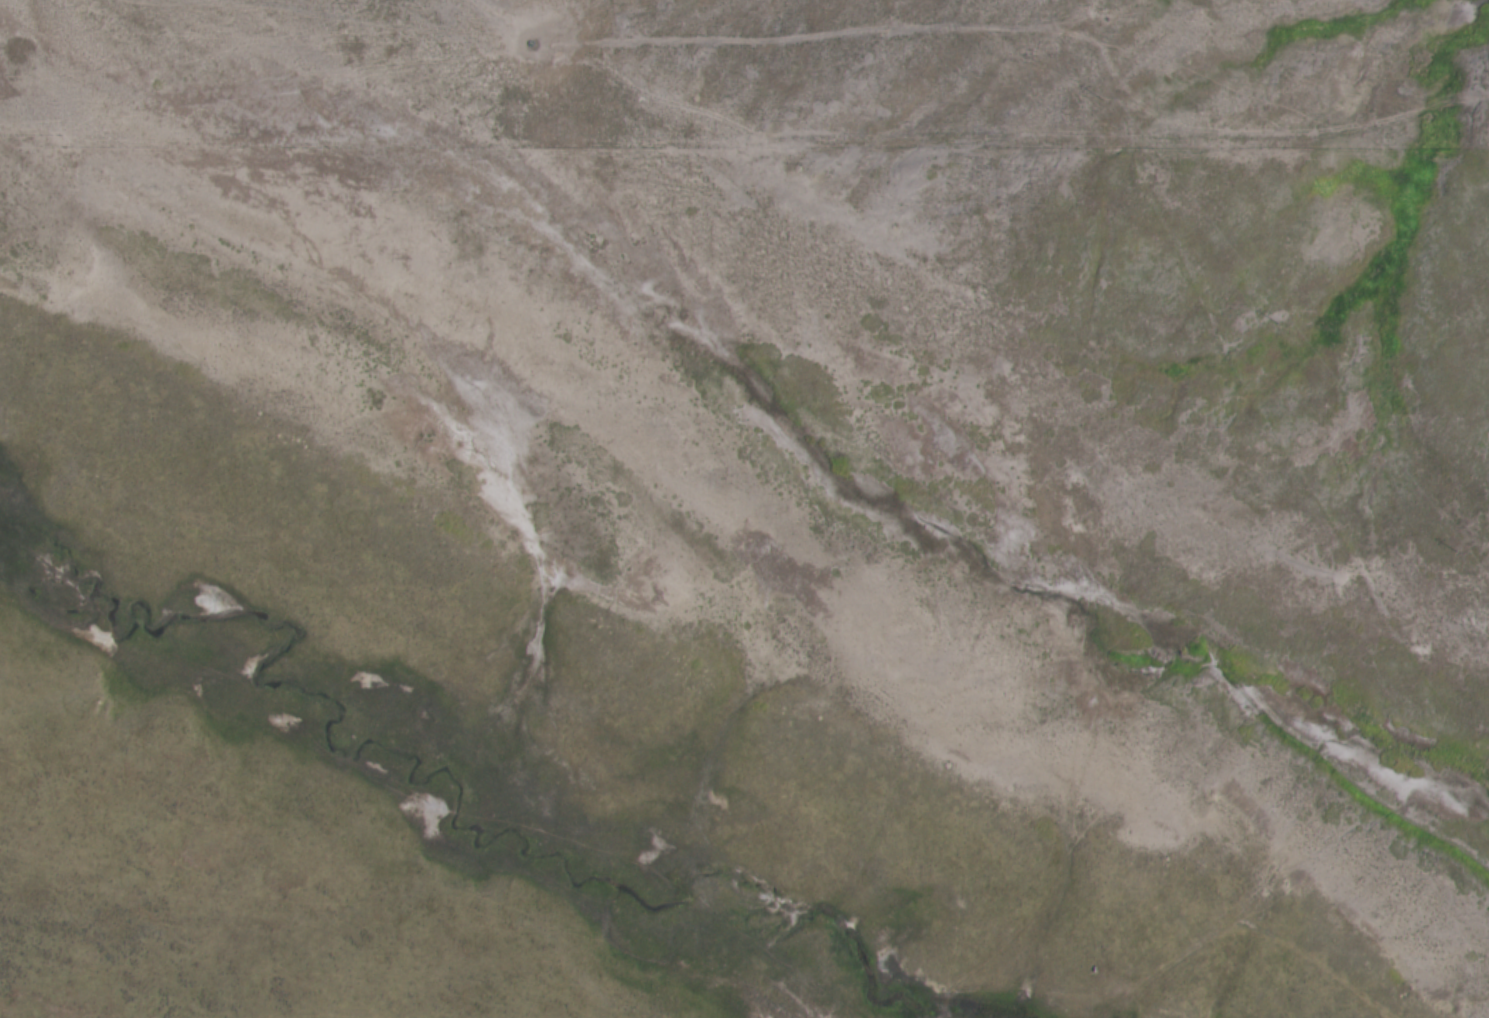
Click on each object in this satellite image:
power tower: (1111, 102)
power tower: (1286, 325)
power tower: (1465, 554)

